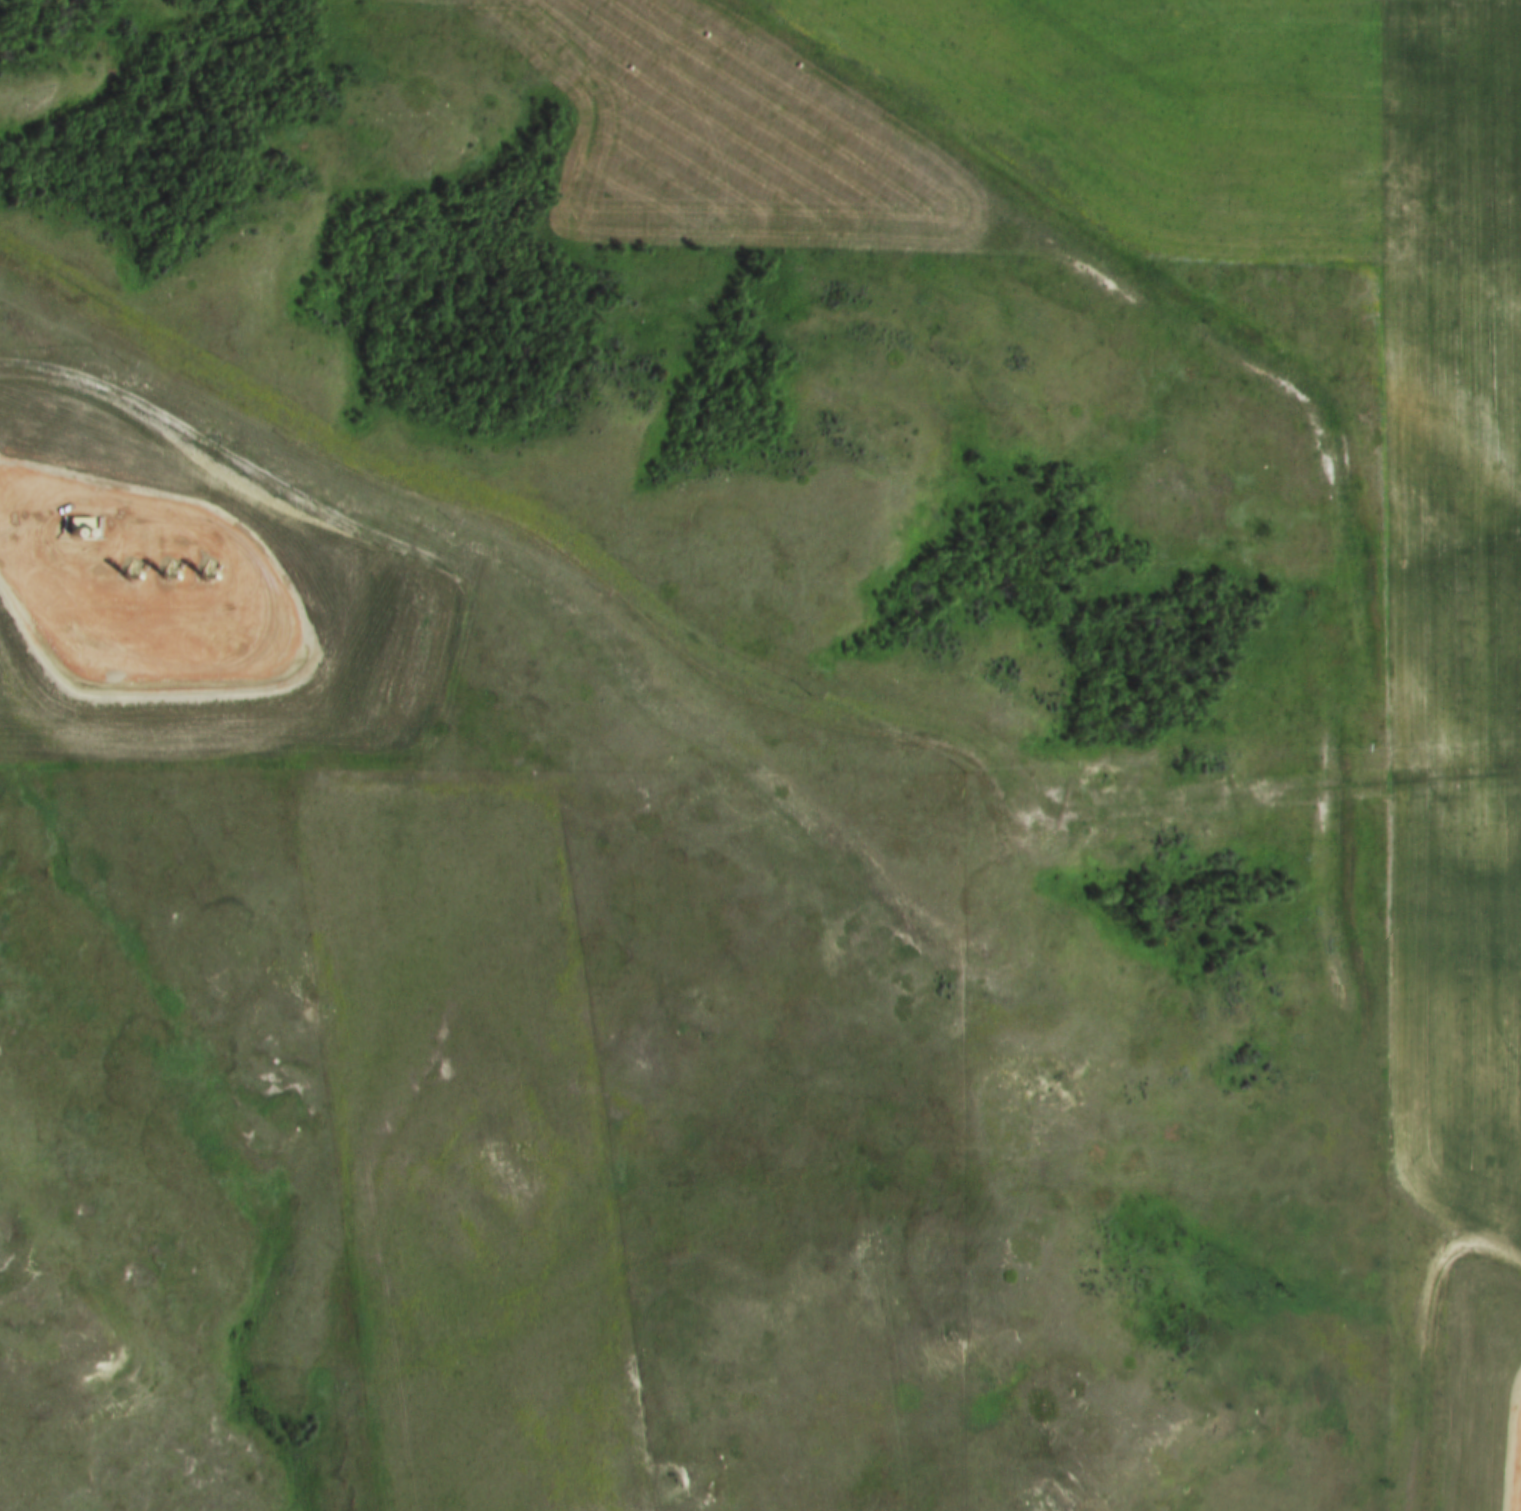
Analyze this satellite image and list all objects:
road: (233, 567)
petroleum well: (162, 570)
petroleum well: (123, 571)
petroleum well: (198, 571)

